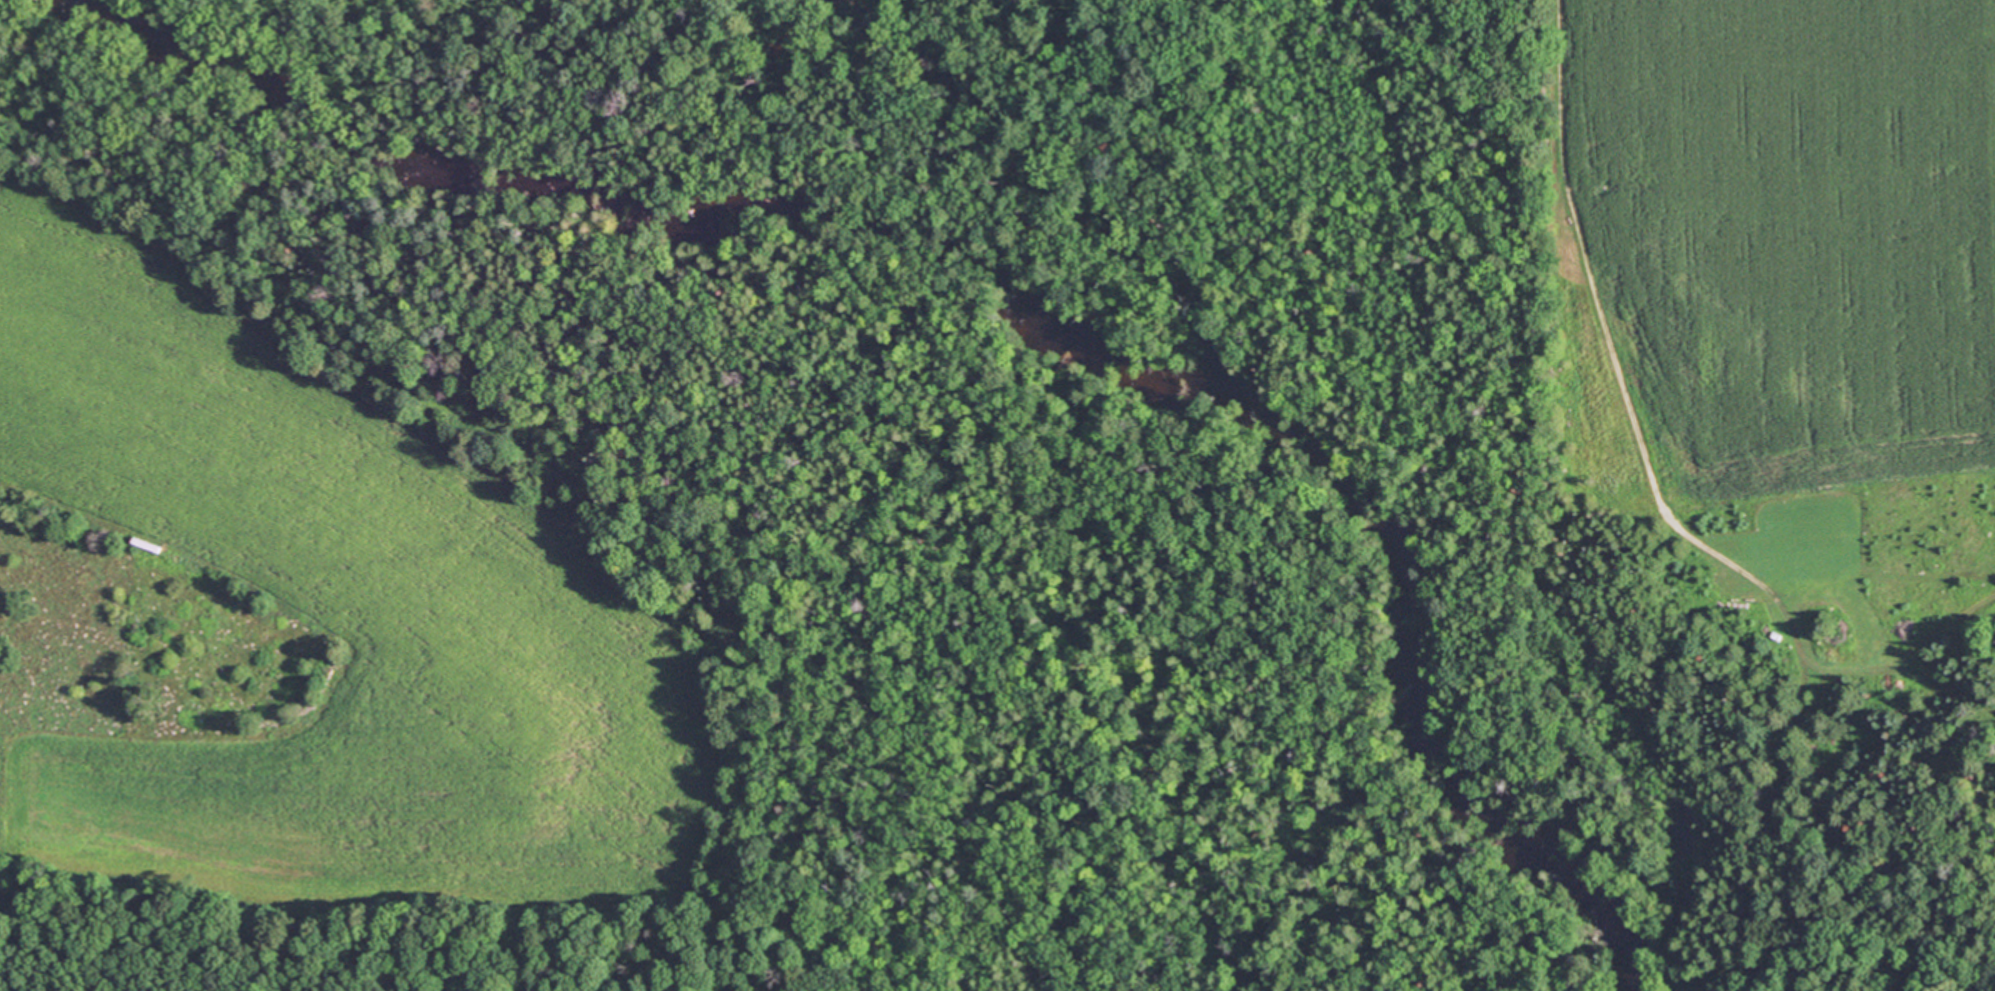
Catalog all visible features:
road: (1589, 270)
river: (1016, 297)

